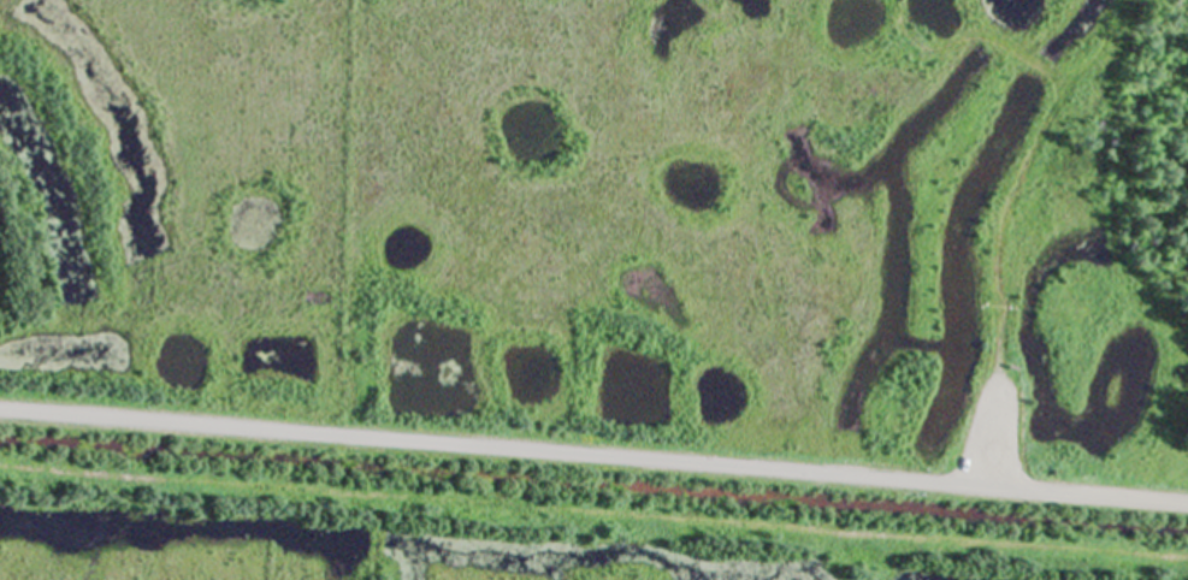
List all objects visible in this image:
road: (593, 456)

